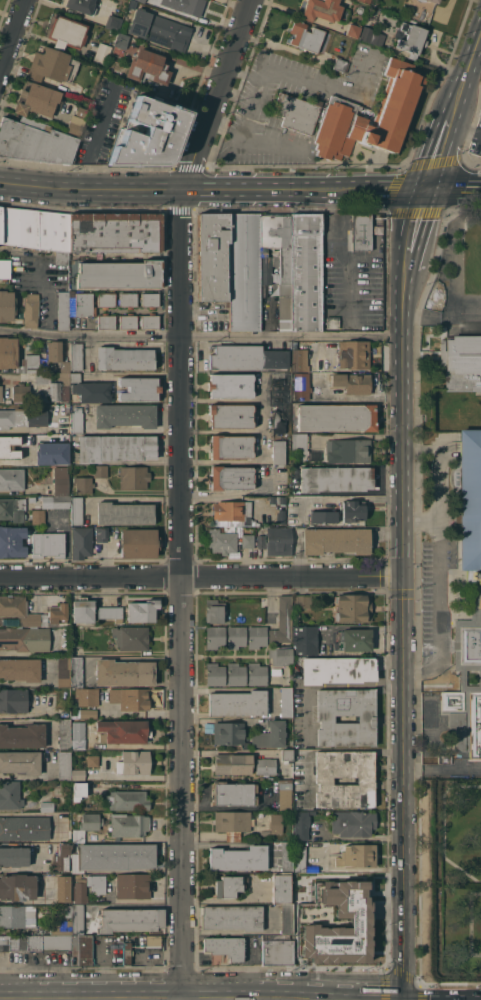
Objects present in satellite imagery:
building: (143, 0)
building: (422, 0)
building: (366, 1)
building: (434, 1)
building: (133, 4)
building: (81, 6)
building: (186, 6)
building: (322, 10)
building: (113, 22)
building: (160, 29)
building: (353, 30)
road: (11, 32)
building: (67, 32)
building: (306, 36)
building: (371, 36)
building: (411, 39)
building: (120, 45)
building: (102, 54)
building: (340, 64)
building: (52, 65)
building: (148, 67)
road: (467, 72)
road: (330, 87)
road: (214, 94)
building: (37, 99)
road: (250, 107)
building: (396, 107)
building: (82, 111)
building: (296, 113)
building: (480, 115)
building: (76, 125)
road: (464, 130)
building: (148, 135)
road: (95, 138)
building: (35, 142)
road: (272, 142)
road: (438, 149)
road: (176, 189)
road: (389, 190)
traffic signals: (425, 190)
road: (453, 190)
road: (414, 221)
building: (36, 230)
building: (362, 231)
building: (115, 232)
road: (342, 254)
building: (214, 257)
building: (277, 261)
road: (404, 267)
building: (4, 269)
road: (38, 269)
building: (245, 271)
building: (306, 271)
building: (119, 274)
road: (350, 297)
building: (128, 299)
building: (106, 300)
building: (150, 300)
building: (84, 304)
building: (6, 305)
building: (31, 310)
building: (63, 310)
road: (441, 315)
building: (106, 321)
building: (128, 321)
building: (150, 321)
building: (332, 322)
road: (200, 337)
building: (35, 340)
building: (57, 354)
building: (353, 355)
building: (76, 356)
building: (245, 357)
building: (18, 358)
building: (124, 358)
building: (299, 360)
building: (462, 362)
building: (75, 377)
building: (300, 380)
building: (352, 382)
building: (231, 385)
building: (43, 389)
building: (139, 389)
building: (279, 390)
building: (92, 391)
building: (1, 393)
building: (300, 395)
building: (125, 415)
building: (230, 415)
building: (23, 416)
building: (336, 417)
building: (278, 418)
building: (77, 420)
road: (402, 428)
building: (30, 438)
building: (299, 441)
building: (231, 446)
building: (9, 447)
building: (116, 447)
building: (348, 450)
building: (279, 452)
building: (52, 453)
road: (15, 462)
building: (100, 471)
building: (134, 477)
building: (231, 477)
building: (336, 478)
building: (12, 479)
building: (61, 481)
building: (83, 484)
building: (276, 500)
building: (56, 502)
building: (12, 509)
building: (76, 510)
building: (229, 510)
building: (353, 510)
building: (124, 513)
building: (37, 516)
building: (280, 516)
building: (324, 518)
building: (101, 534)
building: (222, 539)
building: (336, 540)
building: (12, 541)
building: (248, 541)
building: (261, 541)
building: (278, 541)
building: (81, 542)
building: (138, 542)
building: (48, 545)
road: (201, 576)
traffic signals: (403, 576)
road: (183, 594)
building: (477, 594)
road: (441, 597)
building: (302, 601)
building: (353, 608)
building: (82, 610)
building: (141, 610)
building: (215, 611)
building: (17, 612)
building: (110, 612)
building: (55, 615)
building: (283, 621)
building: (215, 636)
building: (236, 636)
building: (257, 636)
building: (131, 637)
building: (24, 639)
building: (304, 640)
building: (353, 640)
building: (280, 655)
building: (20, 669)
building: (337, 669)
building: (76, 671)
building: (276, 671)
building: (63, 672)
building: (123, 672)
building: (215, 674)
building: (236, 674)
building: (257, 674)
road: (336, 686)
building: (87, 696)
building: (129, 698)
building: (15, 699)
building: (286, 702)
building: (237, 703)
building: (88, 713)
building: (366, 718)
building: (123, 731)
building: (229, 733)
building: (64, 734)
building: (78, 735)
building: (270, 735)
building: (22, 736)
road: (339, 749)
building: (286, 754)
building: (91, 760)
building: (21, 761)
building: (133, 762)
building: (232, 764)
building: (64, 765)
building: (265, 766)
road: (442, 770)
building: (78, 774)
building: (324, 779)
road: (404, 787)
building: (79, 790)
building: (234, 792)
building: (285, 794)
building: (10, 795)
building: (127, 800)
building: (46, 806)
road: (31, 812)
building: (259, 814)
building: (233, 823)
building: (276, 823)
building: (353, 823)
building: (129, 824)
building: (301, 824)
building: (86, 826)
building: (23, 828)
building: (356, 855)
building: (13, 856)
building: (287, 856)
building: (299, 856)
building: (112, 857)
building: (61, 858)
building: (239, 858)
building: (96, 884)
building: (133, 885)
building: (228, 885)
building: (17, 887)
building: (63, 888)
building: (280, 888)
building: (79, 891)
building: (68, 907)
building: (17, 916)
building: (232, 916)
building: (287, 918)
building: (78, 919)
building: (131, 919)
building: (333, 923)
building: (61, 927)
building: (153, 940)
building: (35, 942)
building: (225, 947)
building: (277, 949)
building: (81, 950)
building: (126, 953)

